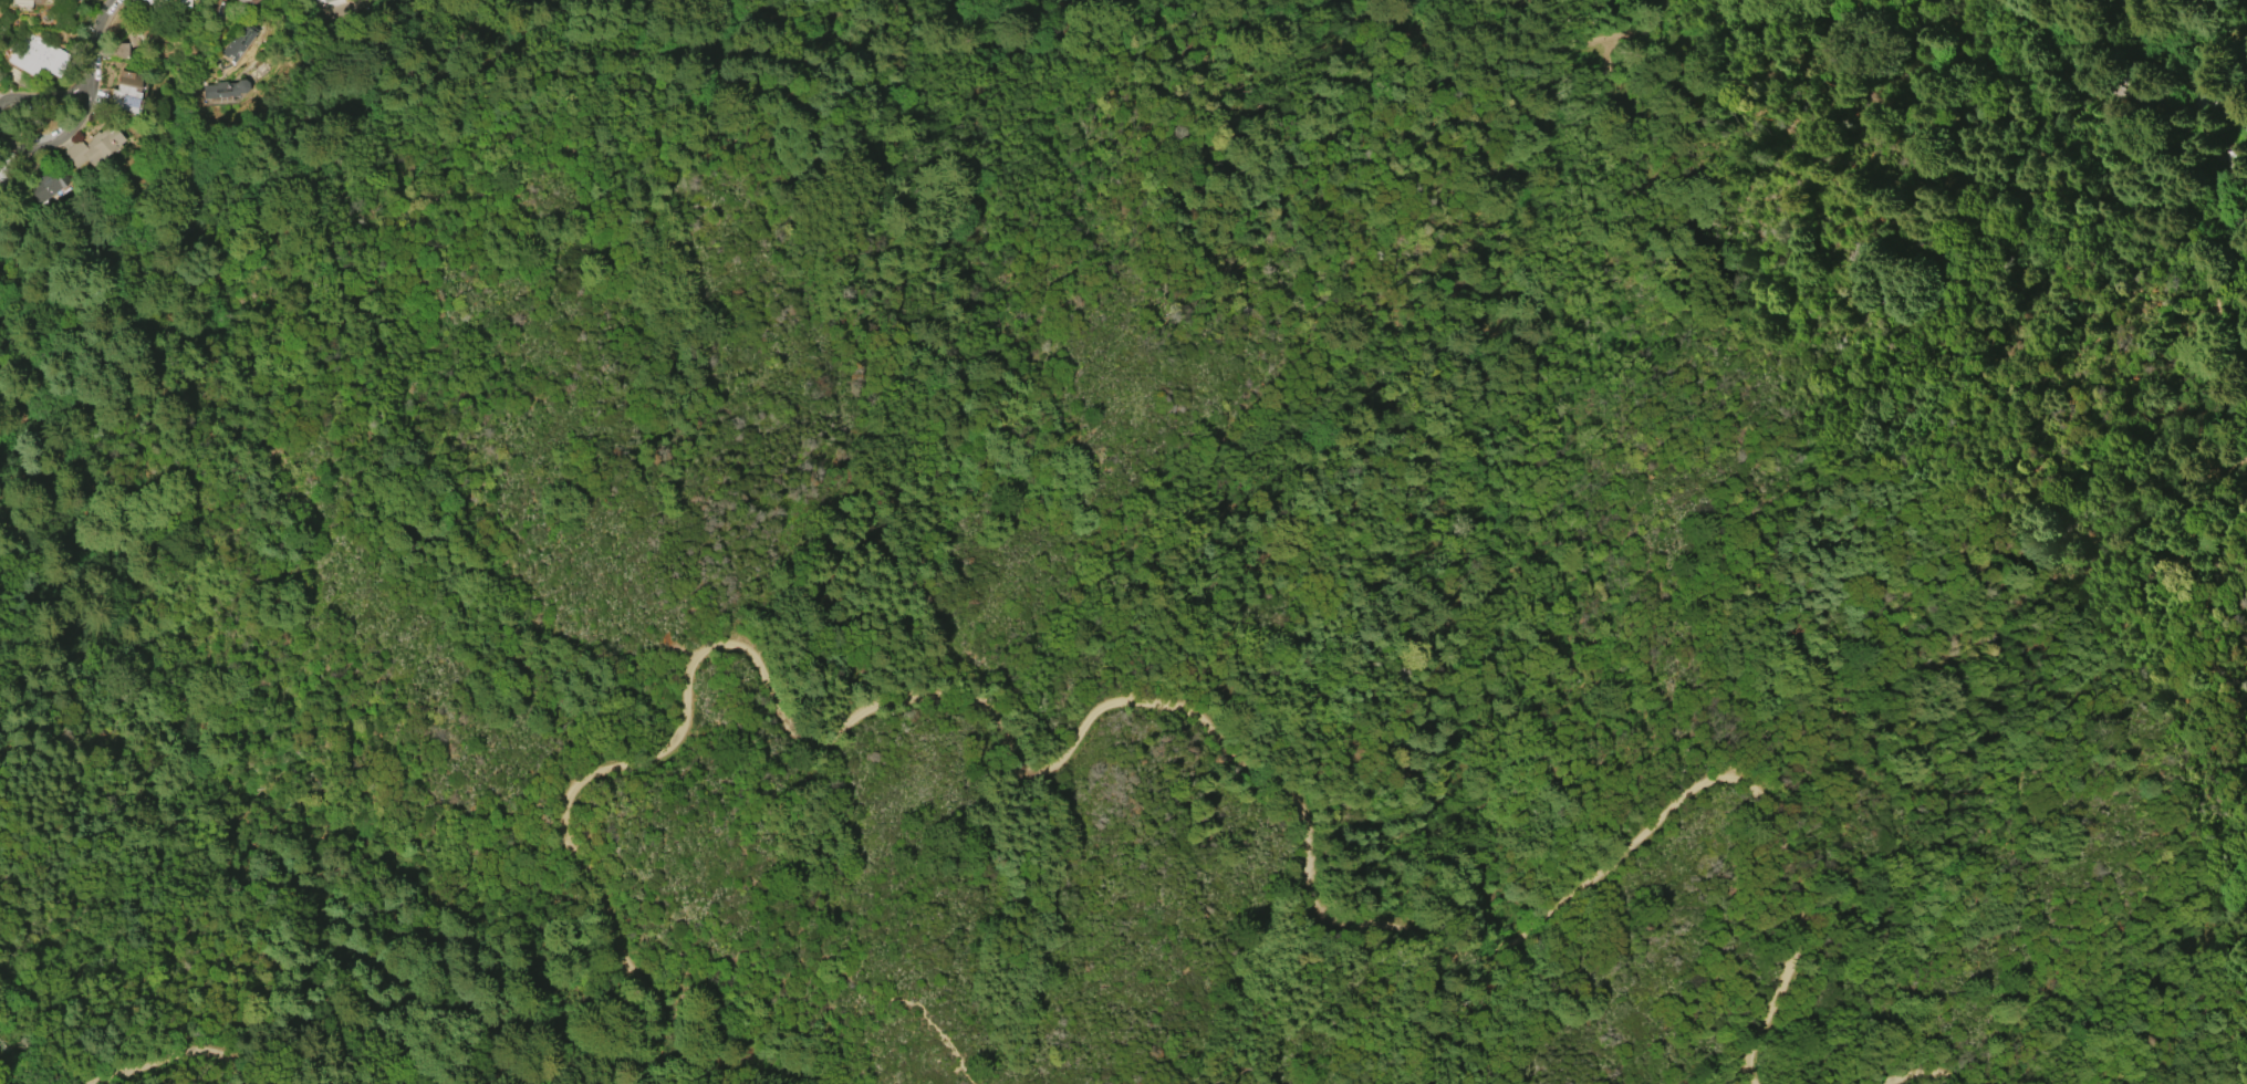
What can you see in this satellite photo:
building: (323, 0)
building: (330, 0)
building: (28, 1)
building: (183, 1)
building: (156, 2)
building: (247, 2)
building: (215, 9)
road: (339, 11)
road: (1648, 32)
road: (95, 38)
road: (656, 39)
building: (240, 42)
building: (37, 56)
building: (225, 90)
building: (126, 91)
road: (293, 107)
road: (2224, 122)
road: (2037, 125)
road: (6, 133)
building: (93, 147)
building: (2227, 161)
road: (269, 167)
building: (48, 185)
road: (138, 232)
road: (2207, 368)
road: (187, 685)
road: (1161, 705)
road: (118, 1067)
road: (1923, 1073)

